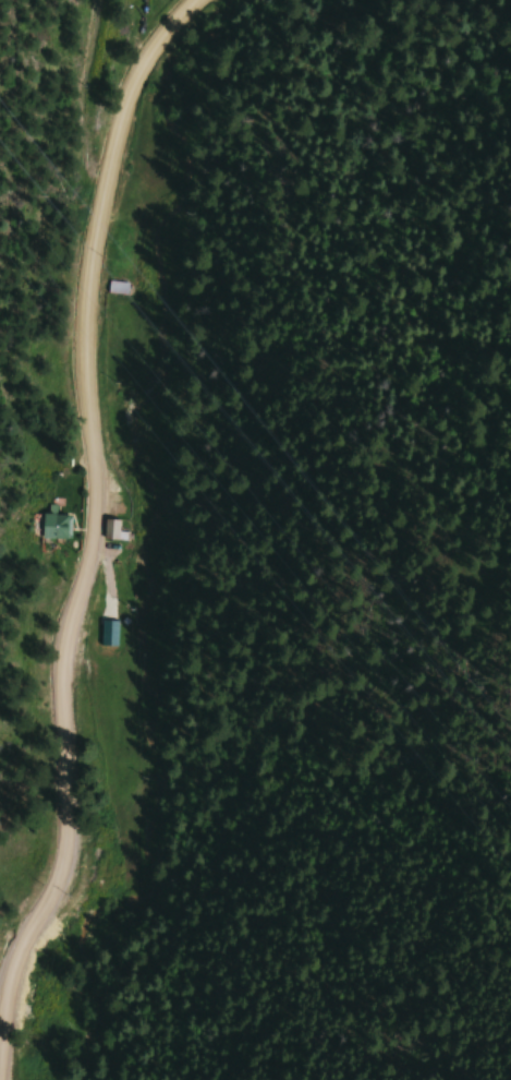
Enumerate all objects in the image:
building: (115, 288)
road: (92, 504)
building: (50, 527)
building: (110, 529)

